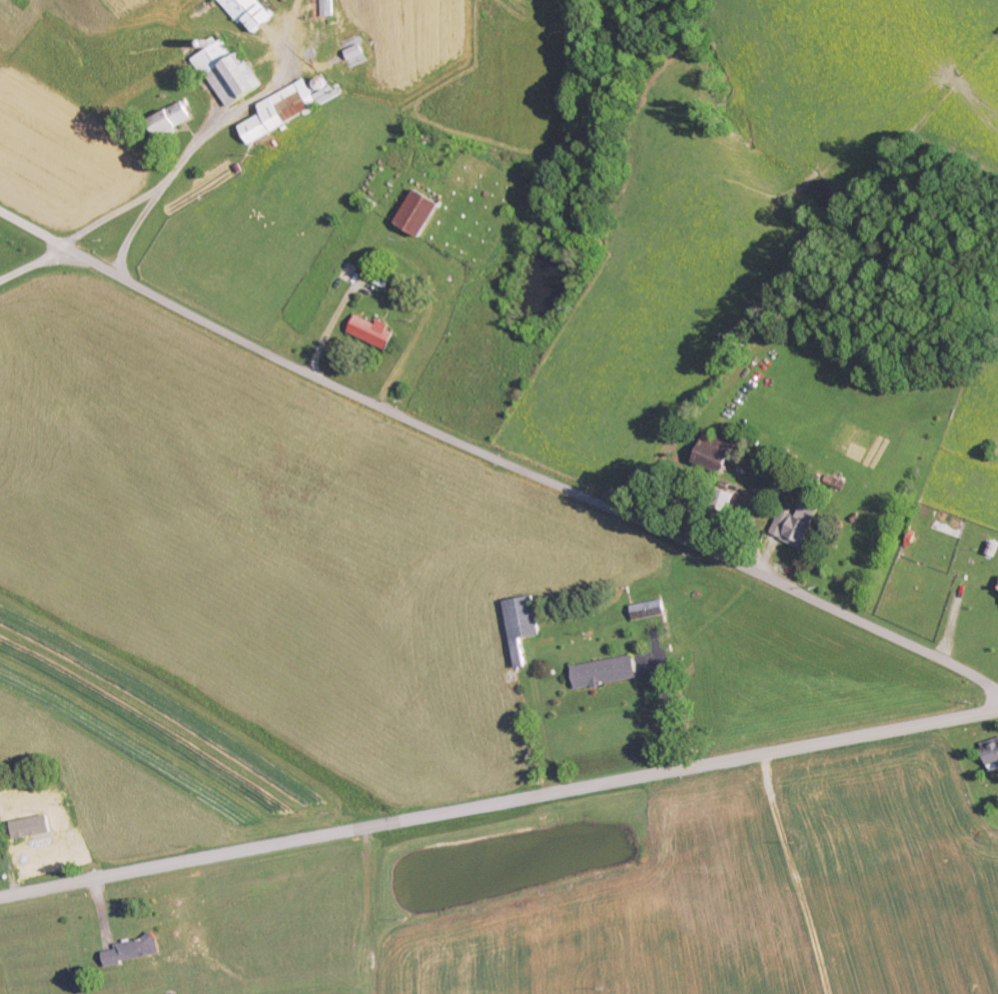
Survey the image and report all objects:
building: (252, 12)
building: (358, 52)
building: (231, 73)
building: (284, 110)
building: (175, 117)
building: (421, 213)
building: (373, 332)
building: (715, 453)
road: (497, 458)
building: (796, 525)
building: (649, 609)
building: (522, 626)
building: (605, 672)
building: (992, 755)
road: (498, 803)
building: (34, 827)
road: (785, 875)
road: (362, 911)
building: (135, 951)

